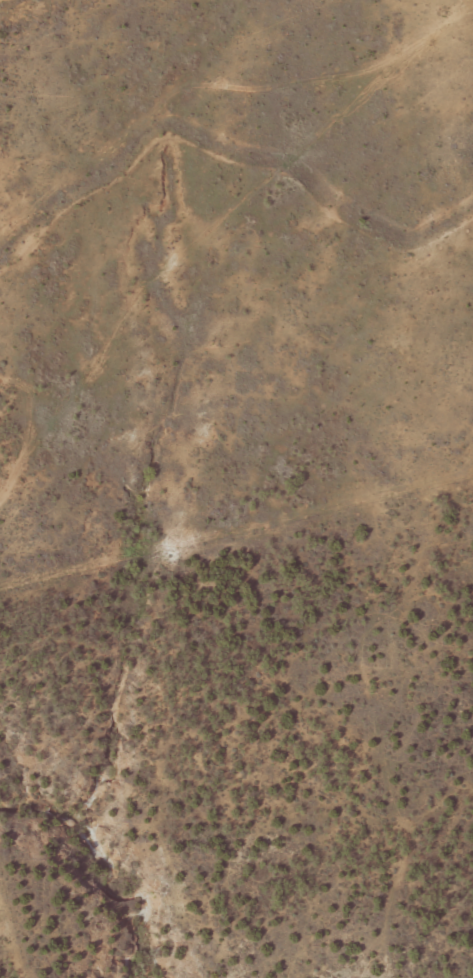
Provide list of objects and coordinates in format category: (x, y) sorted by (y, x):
road: (91, 18)

